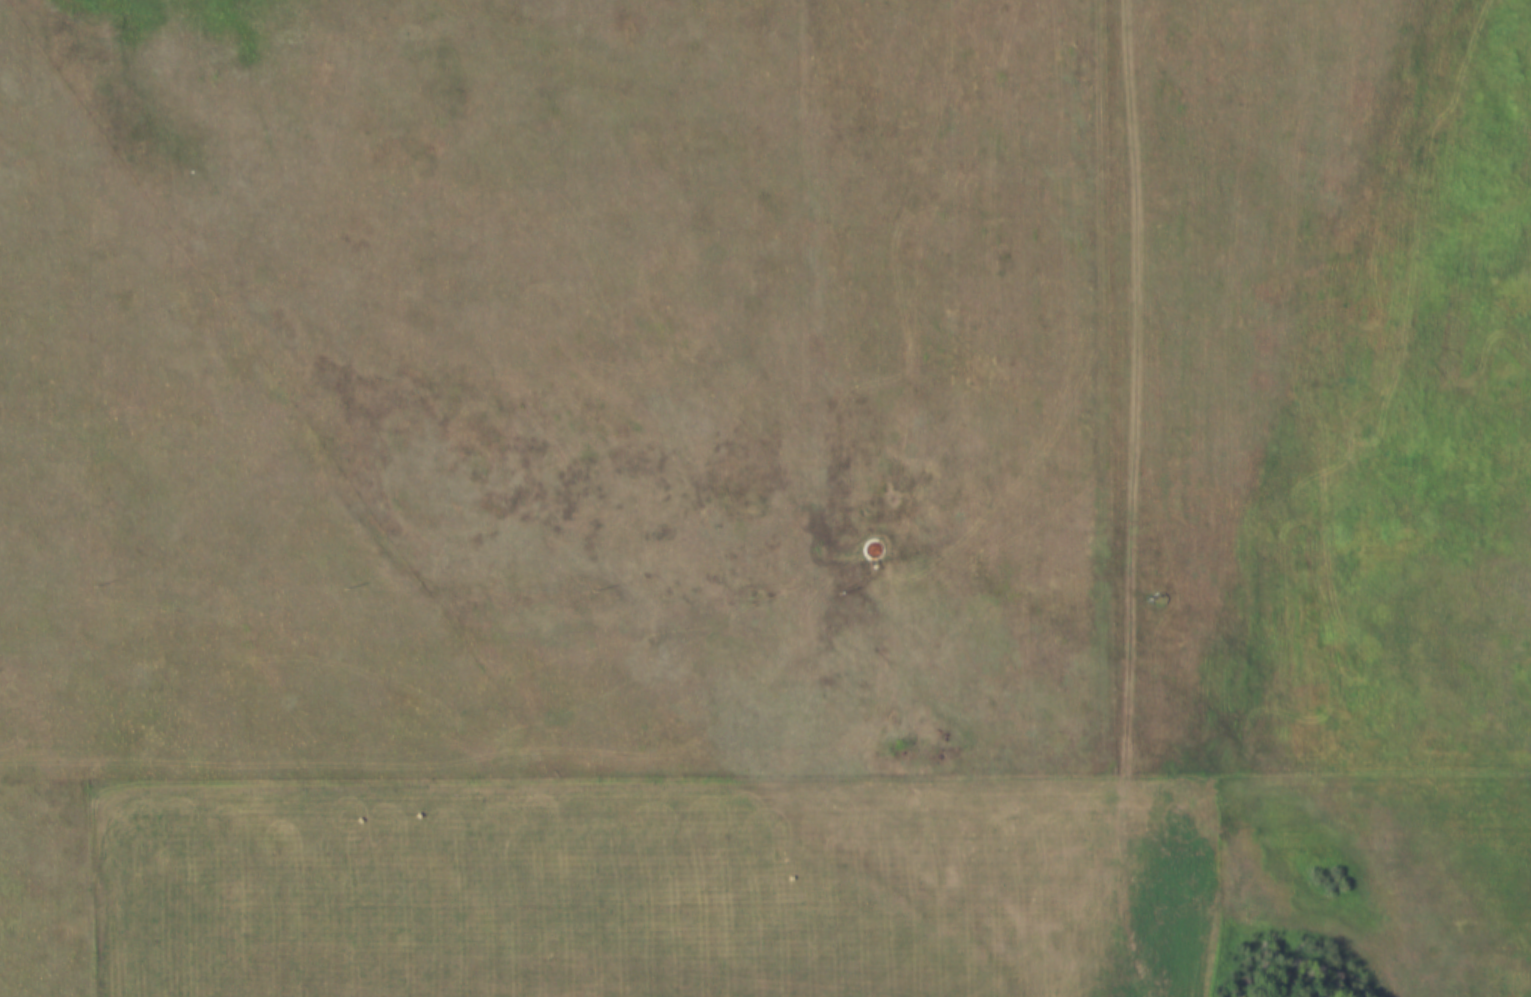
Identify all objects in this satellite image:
road: (1139, 408)

